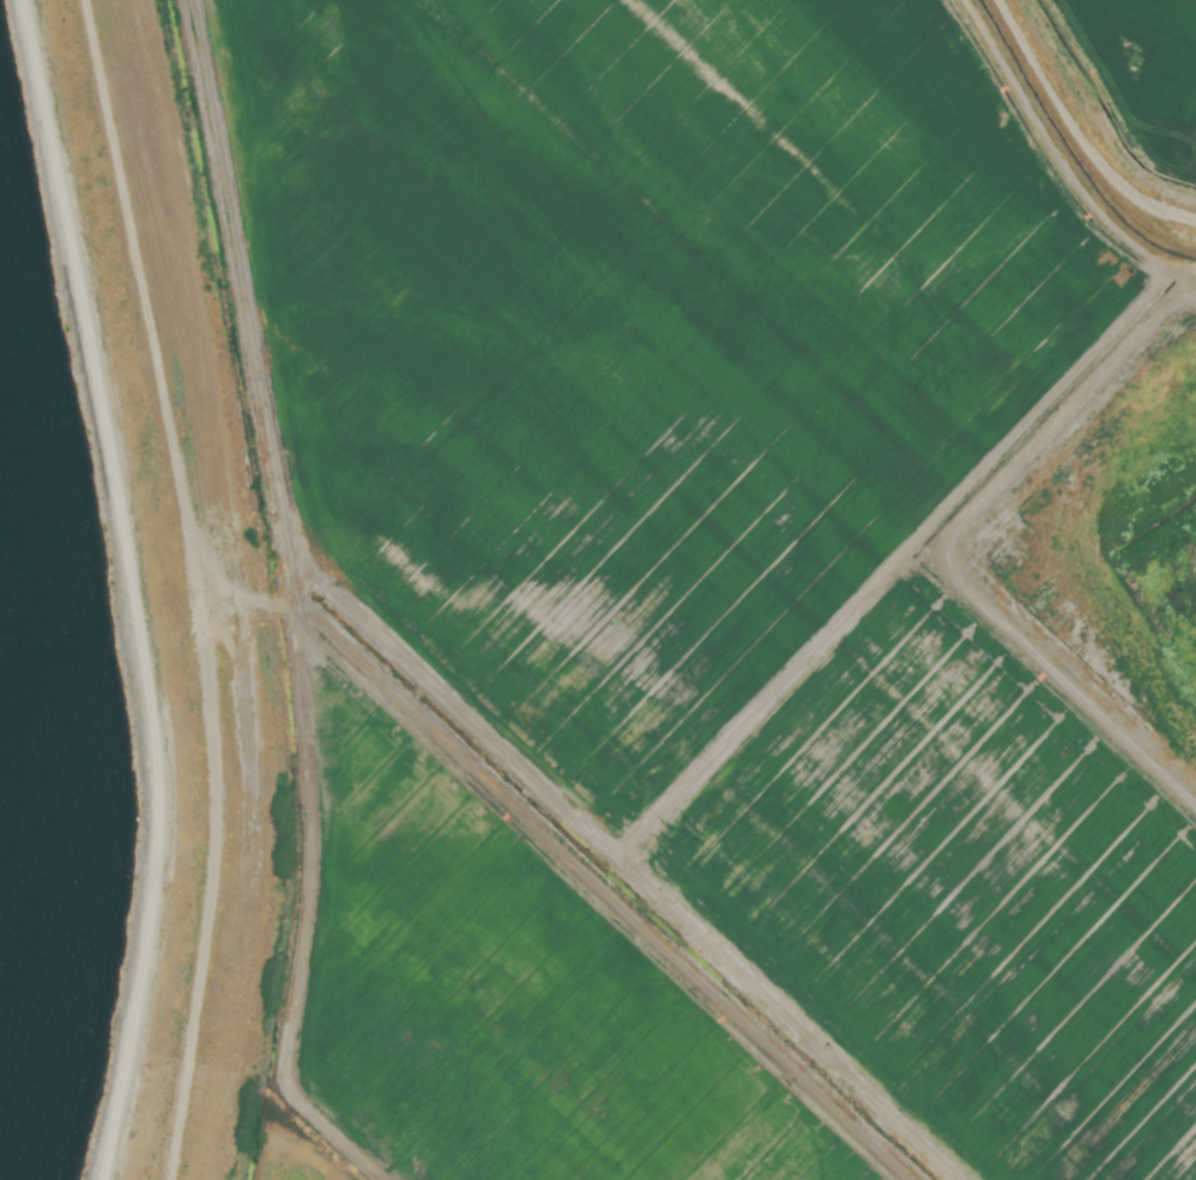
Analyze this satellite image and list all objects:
crop: (682, 581)
road: (134, 587)

